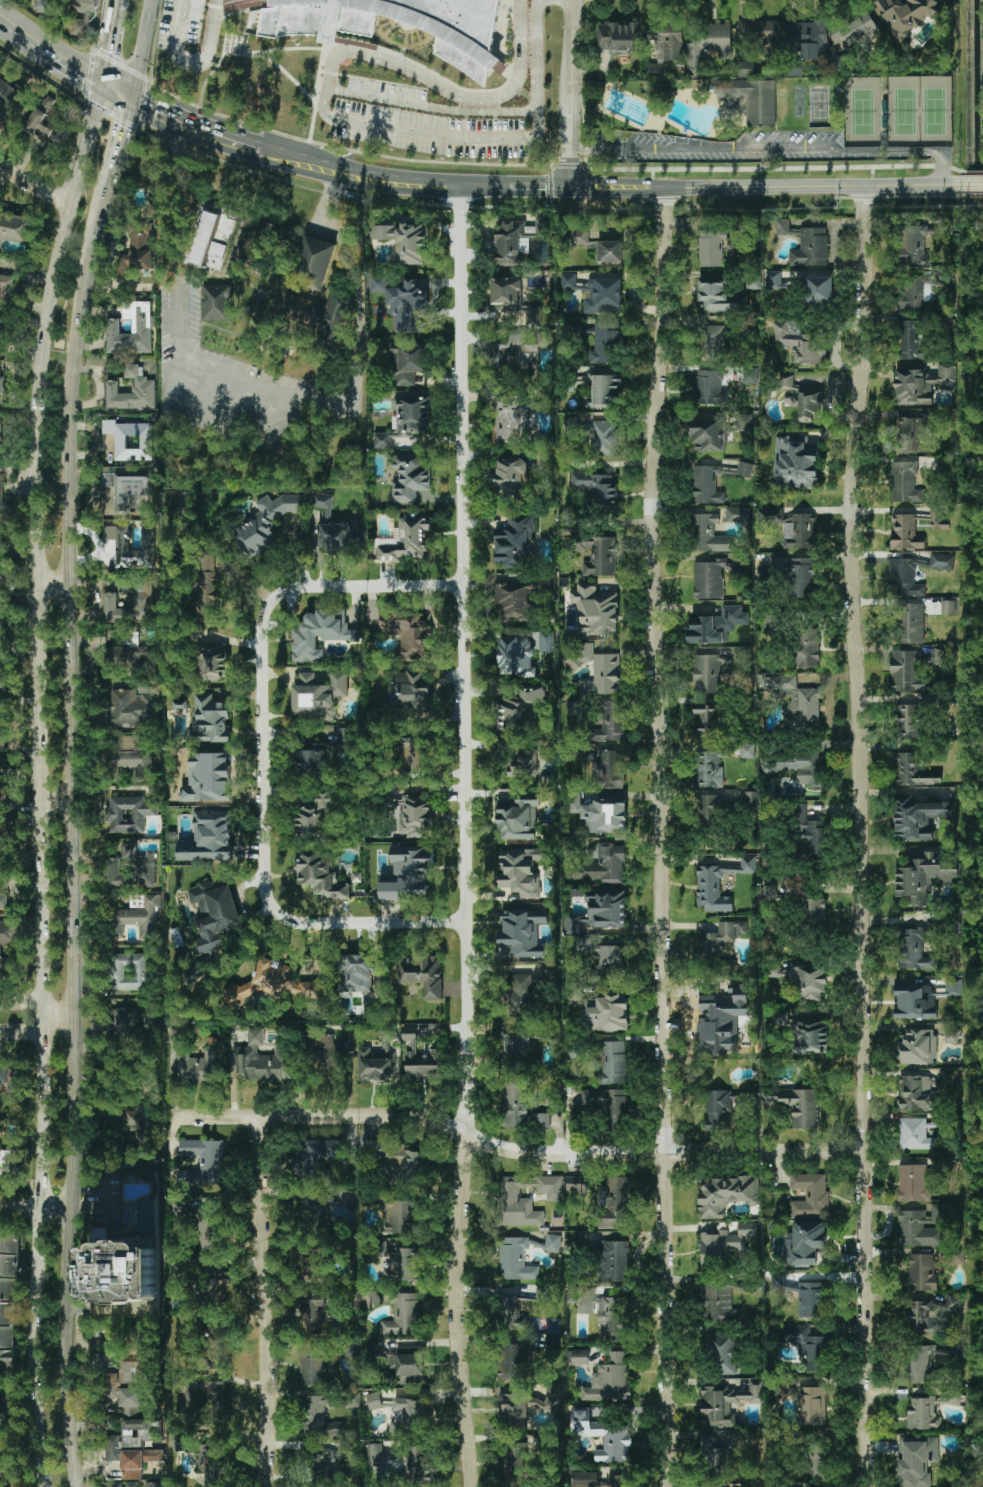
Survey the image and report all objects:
building: (44, 5)
building: (906, 15)
road: (6, 16)
building: (81, 16)
building: (386, 27)
parking lot: (195, 28)
building: (858, 29)
building: (761, 34)
building: (617, 37)
building: (809, 38)
road: (200, 39)
building: (666, 40)
road: (111, 41)
road: (139, 48)
road: (58, 52)
building: (745, 68)
building: (654, 69)
traffic signals: (103, 82)
building: (723, 88)
road: (115, 89)
road: (572, 94)
traffic signals: (127, 97)
building: (8, 99)
park: (798, 101)
building: (760, 103)
road: (432, 107)
park: (819, 107)
park: (904, 111)
park: (933, 111)
park: (862, 112)
road: (330, 117)
building: (47, 118)
road: (190, 123)
road: (114, 140)
road: (771, 150)
road: (376, 179)
road: (34, 185)
road: (777, 187)
road: (537, 188)
traffic signals: (572, 189)
building: (784, 227)
building: (15, 228)
road: (333, 229)
building: (579, 237)
building: (518, 239)
building: (404, 240)
building: (920, 241)
building: (208, 244)
building: (710, 248)
building: (810, 248)
building: (136, 250)
building: (609, 251)
building: (316, 257)
building: (773, 279)
building: (753, 281)
building: (5, 287)
building: (819, 290)
building: (505, 291)
building: (596, 293)
building: (916, 293)
building: (719, 296)
building: (215, 302)
building: (403, 304)
building: (532, 316)
road: (180, 323)
building: (141, 326)
building: (4, 328)
building: (713, 339)
building: (911, 340)
building: (799, 342)
building: (606, 343)
building: (406, 362)
building: (749, 374)
road: (355, 375)
road: (238, 378)
building: (0, 381)
building: (921, 384)
building: (143, 386)
building: (606, 386)
building: (709, 388)
building: (802, 398)
building: (412, 414)
road: (228, 415)
building: (514, 418)
building: (741, 422)
building: (570, 424)
building: (707, 431)
building: (908, 433)
building: (0, 435)
building: (603, 438)
building: (130, 439)
building: (382, 439)
building: (351, 448)
building: (795, 462)
building: (744, 469)
building: (510, 477)
building: (409, 478)
building: (904, 481)
building: (706, 485)
building: (596, 488)
building: (1, 492)
building: (125, 492)
building: (322, 501)
building: (737, 514)
building: (264, 523)
building: (798, 531)
building: (905, 531)
building: (708, 534)
building: (338, 536)
building: (407, 538)
building: (514, 542)
building: (0, 544)
building: (128, 548)
building: (598, 555)
building: (941, 561)
building: (799, 575)
building: (904, 576)
building: (713, 577)
road: (52, 579)
building: (2, 583)
building: (204, 588)
building: (141, 600)
building: (511, 601)
building: (940, 606)
building: (594, 610)
building: (911, 623)
building: (715, 625)
building: (0, 630)
building: (407, 633)
building: (318, 634)
building: (546, 640)
building: (806, 647)
building: (515, 656)
building: (130, 657)
building: (940, 659)
building: (211, 664)
building: (600, 671)
building: (708, 671)
building: (908, 672)
building: (2, 679)
building: (408, 690)
building: (318, 693)
building: (793, 698)
building: (179, 704)
building: (520, 707)
building: (130, 708)
building: (210, 717)
building: (707, 721)
building: (907, 721)
building: (345, 737)
building: (1, 738)
building: (746, 750)
building: (410, 752)
building: (526, 762)
road: (273, 763)
building: (311, 763)
building: (796, 766)
building: (605, 767)
building: (709, 768)
building: (912, 771)
road: (39, 781)
building: (3, 796)
building: (750, 799)
building: (573, 803)
building: (709, 811)
building: (127, 813)
building: (604, 814)
building: (311, 815)
building: (414, 815)
building: (518, 816)
building: (916, 817)
building: (811, 833)
road: (70, 834)
building: (207, 835)
road: (863, 836)
road: (467, 837)
road: (662, 837)
building: (604, 864)
building: (129, 866)
building: (520, 870)
building: (407, 872)
building: (318, 876)
building: (356, 877)
building: (923, 877)
building: (718, 878)
building: (770, 892)
building: (3, 898)
building: (606, 907)
building: (814, 910)
building: (214, 914)
building: (137, 918)
building: (575, 923)
building: (522, 932)
building: (721, 938)
building: (7, 942)
building: (912, 949)
building: (603, 956)
building: (129, 971)
building: (354, 973)
building: (421, 974)
building: (808, 982)
building: (272, 983)
building: (954, 986)
building: (519, 995)
building: (580, 1001)
building: (914, 1002)
building: (368, 1008)
building: (609, 1013)
road: (35, 1015)
building: (779, 1017)
building: (721, 1022)
building: (124, 1025)
building: (551, 1034)
building: (952, 1034)
building: (811, 1036)
building: (918, 1046)
building: (517, 1049)
building: (328, 1055)
building: (419, 1057)
building: (262, 1060)
building: (613, 1063)
building: (373, 1066)
building: (197, 1068)
building: (9, 1077)
building: (920, 1091)
building: (608, 1103)
building: (515, 1105)
building: (797, 1105)
building: (539, 1121)
building: (133, 1128)
building: (916, 1134)
road: (515, 1151)
building: (315, 1156)
building: (204, 1159)
building: (7, 1160)
building: (399, 1160)
building: (913, 1183)
building: (575, 1184)
building: (725, 1195)
building: (809, 1195)
building: (344, 1197)
building: (525, 1199)
building: (615, 1202)
road: (102, 1203)
road: (34, 1207)
building: (313, 1210)
building: (401, 1215)
building: (921, 1226)
building: (209, 1231)
building: (806, 1241)
building: (552, 1242)
building: (723, 1246)
building: (957, 1256)
building: (515, 1259)
building: (614, 1261)
building: (400, 1262)
building: (8, 1265)
building: (311, 1267)
building: (124, 1271)
building: (922, 1272)
building: (542, 1293)
building: (370, 1299)
building: (810, 1300)
road: (266, 1301)
building: (717, 1303)
building: (514, 1311)
building: (604, 1311)
building: (920, 1311)
building: (314, 1313)
building: (404, 1315)
building: (124, 1334)
building: (6, 1336)
building: (809, 1347)
building: (218, 1351)
building: (722, 1352)
building: (580, 1356)
building: (513, 1361)
building: (409, 1365)
building: (312, 1367)
building: (608, 1380)
building: (209, 1396)
building: (353, 1398)
building: (373, 1400)
building: (726, 1402)
building: (526, 1405)
building: (812, 1406)
building: (3, 1409)
building: (929, 1410)
building: (319, 1417)
building: (407, 1417)
building: (128, 1424)
building: (615, 1441)
building: (179, 1443)
building: (375, 1454)
building: (715, 1456)
building: (514, 1460)
building: (818, 1460)
building: (916, 1461)
building: (321, 1462)
building: (416, 1462)
building: (132, 1464)
building: (211, 1468)
building: (595, 1480)
building: (155, 1483)
building: (124, 1484)
building: (8, 1486)
building: (812, 1486)

